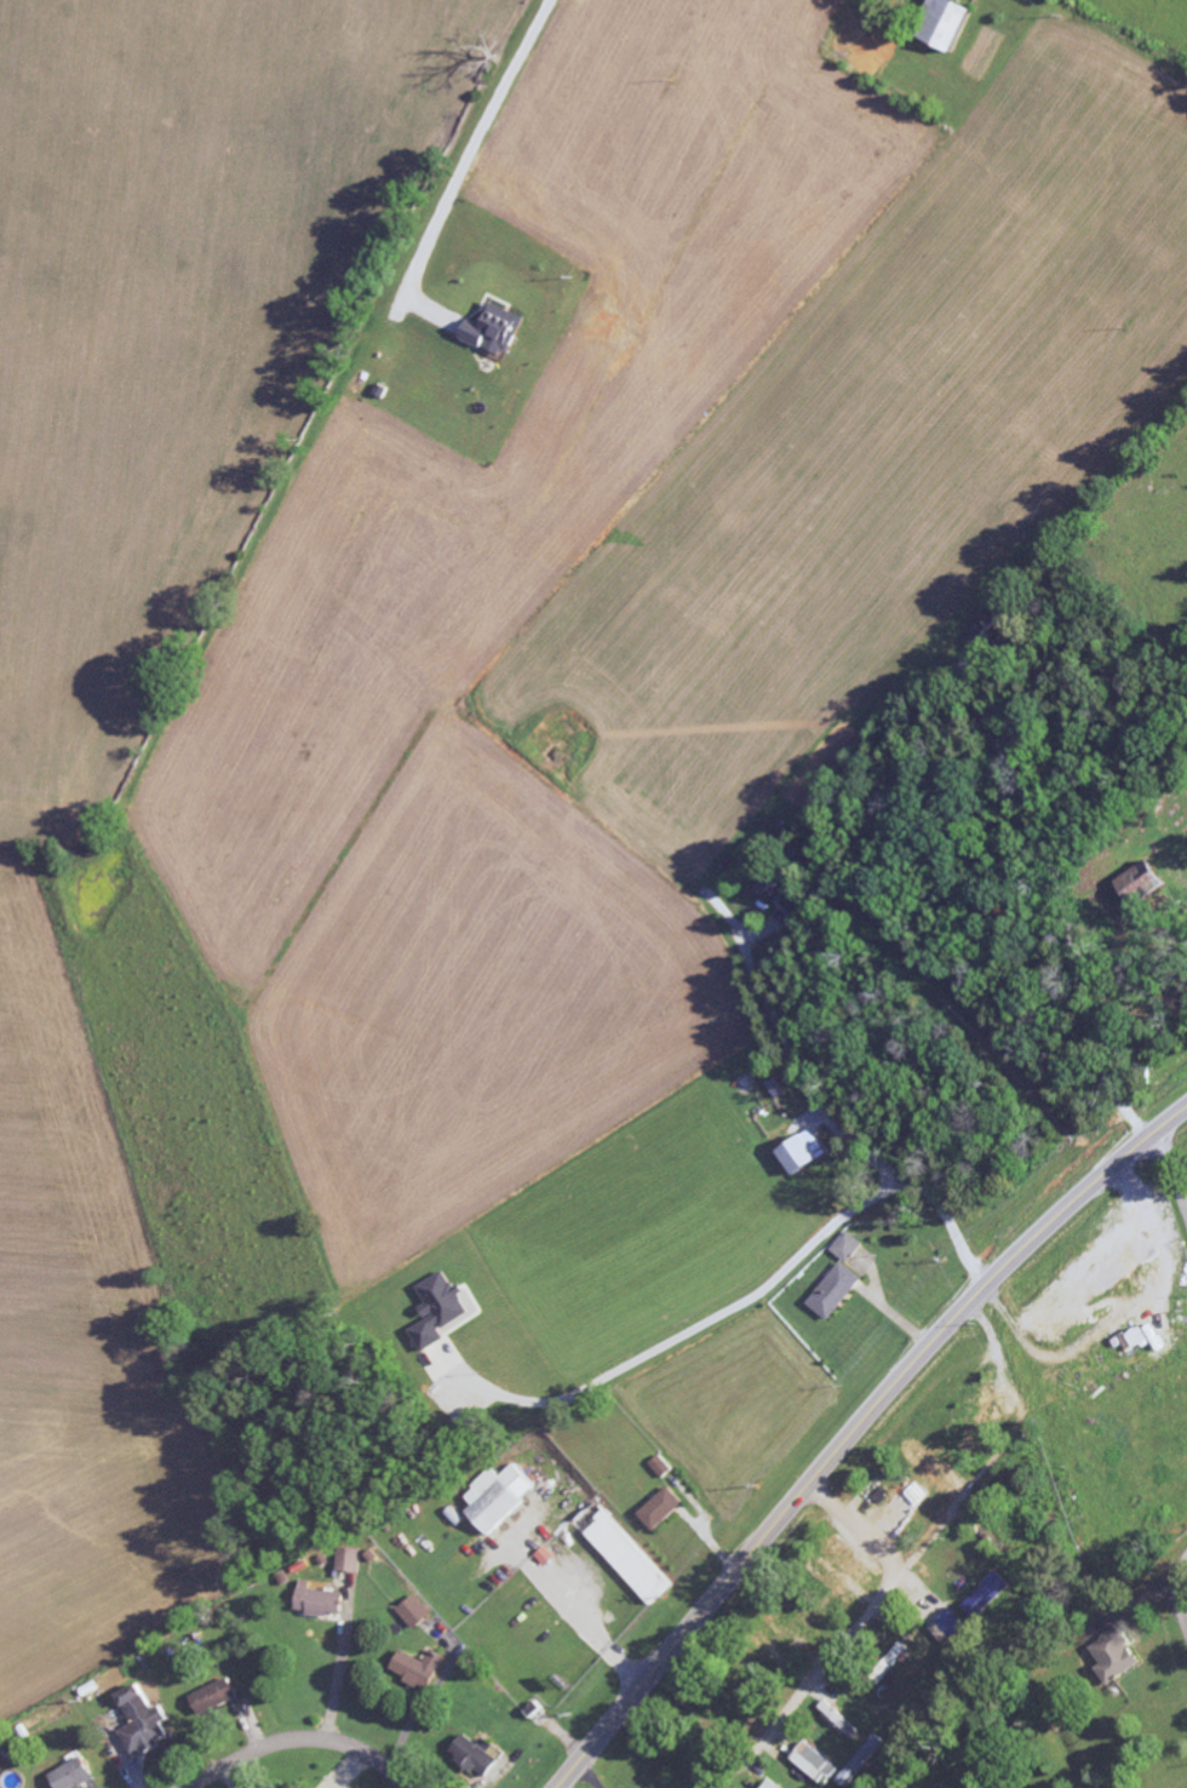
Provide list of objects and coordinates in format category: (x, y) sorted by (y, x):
building: (944, 22)
road: (469, 149)
building: (491, 329)
building: (992, 619)
building: (1137, 884)
building: (780, 892)
building: (799, 1151)
road: (1170, 1170)
building: (844, 1247)
building: (1124, 1262)
building: (833, 1291)
building: (436, 1310)
building: (1137, 1337)
building: (996, 1410)
road: (854, 1429)
building: (928, 1463)
building: (495, 1496)
building: (661, 1508)
road: (956, 1508)
building: (898, 1518)
building: (848, 1555)
building: (626, 1558)
building: (830, 1578)
road: (1177, 1594)
building: (986, 1595)
building: (317, 1601)
building: (412, 1611)
building: (787, 1617)
road: (866, 1621)
building: (952, 1624)
building: (798, 1643)
building: (1113, 1656)
building: (891, 1660)
building: (415, 1668)
building: (211, 1696)
building: (835, 1715)
building: (138, 1721)
road: (298, 1740)
building: (472, 1754)
building: (814, 1764)
building: (0, 1767)
building: (70, 1775)
building: (769, 1784)

